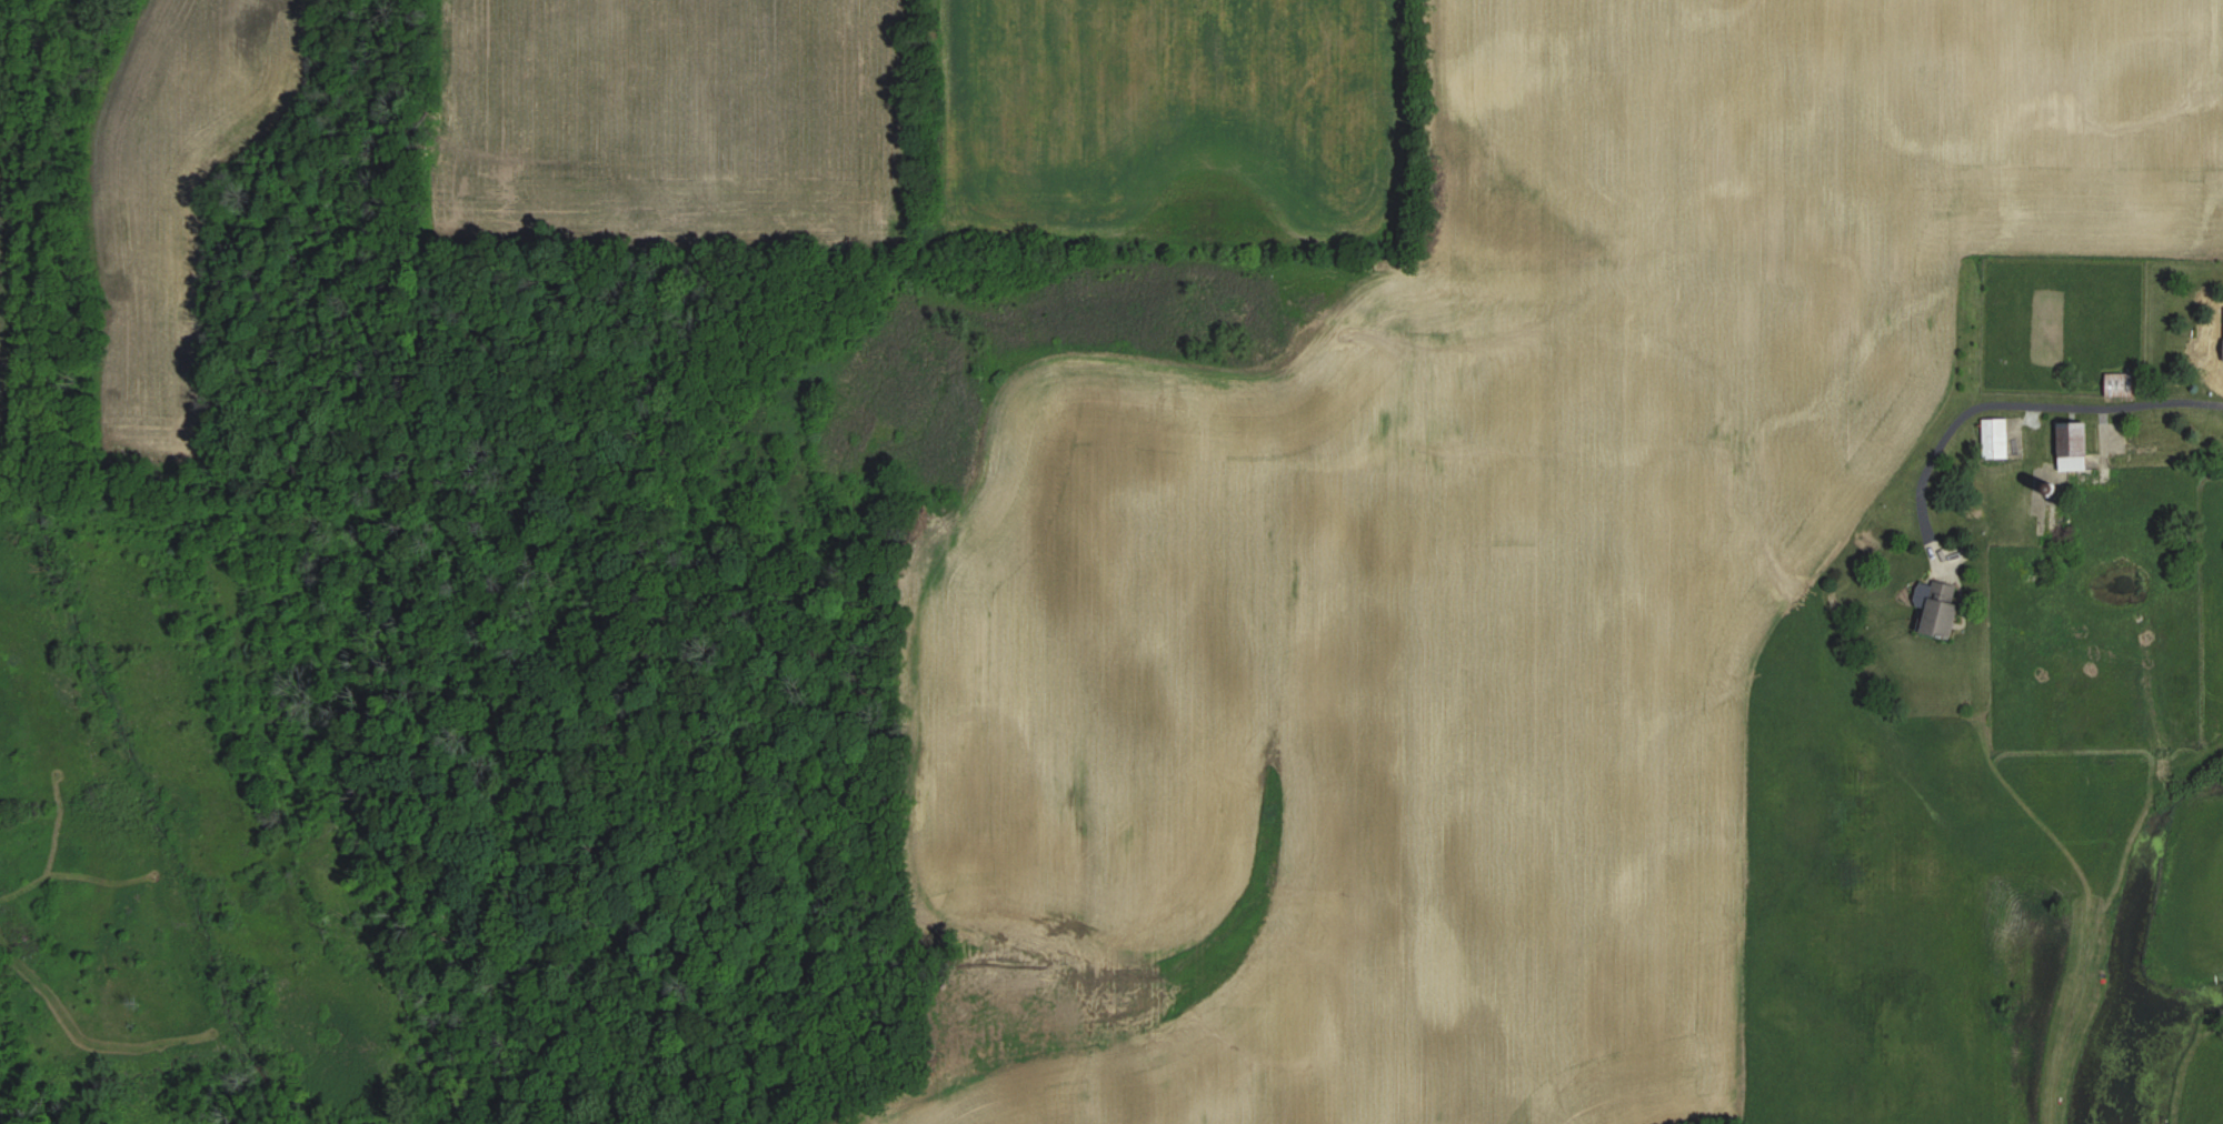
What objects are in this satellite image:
building: (2123, 384)
road: (2008, 404)
building: (1998, 438)
building: (2076, 446)
building: (1941, 609)

